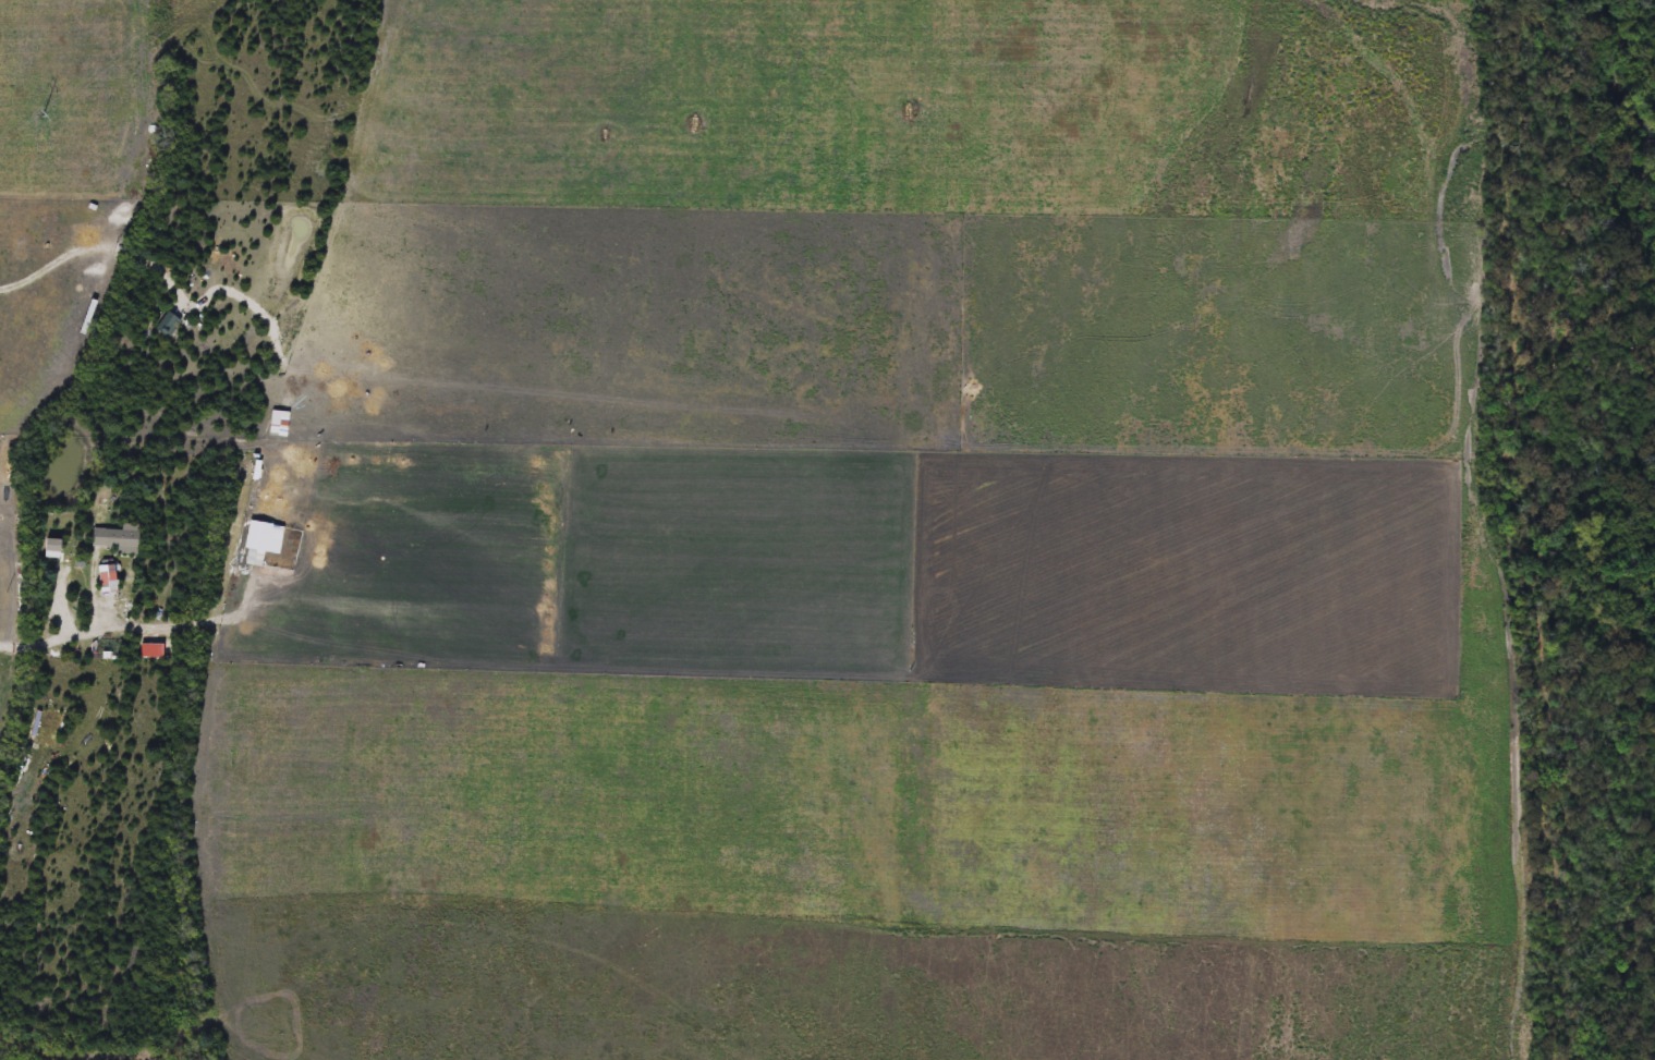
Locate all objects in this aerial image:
power tower: (56, 120)
road: (97, 237)
road: (41, 613)

